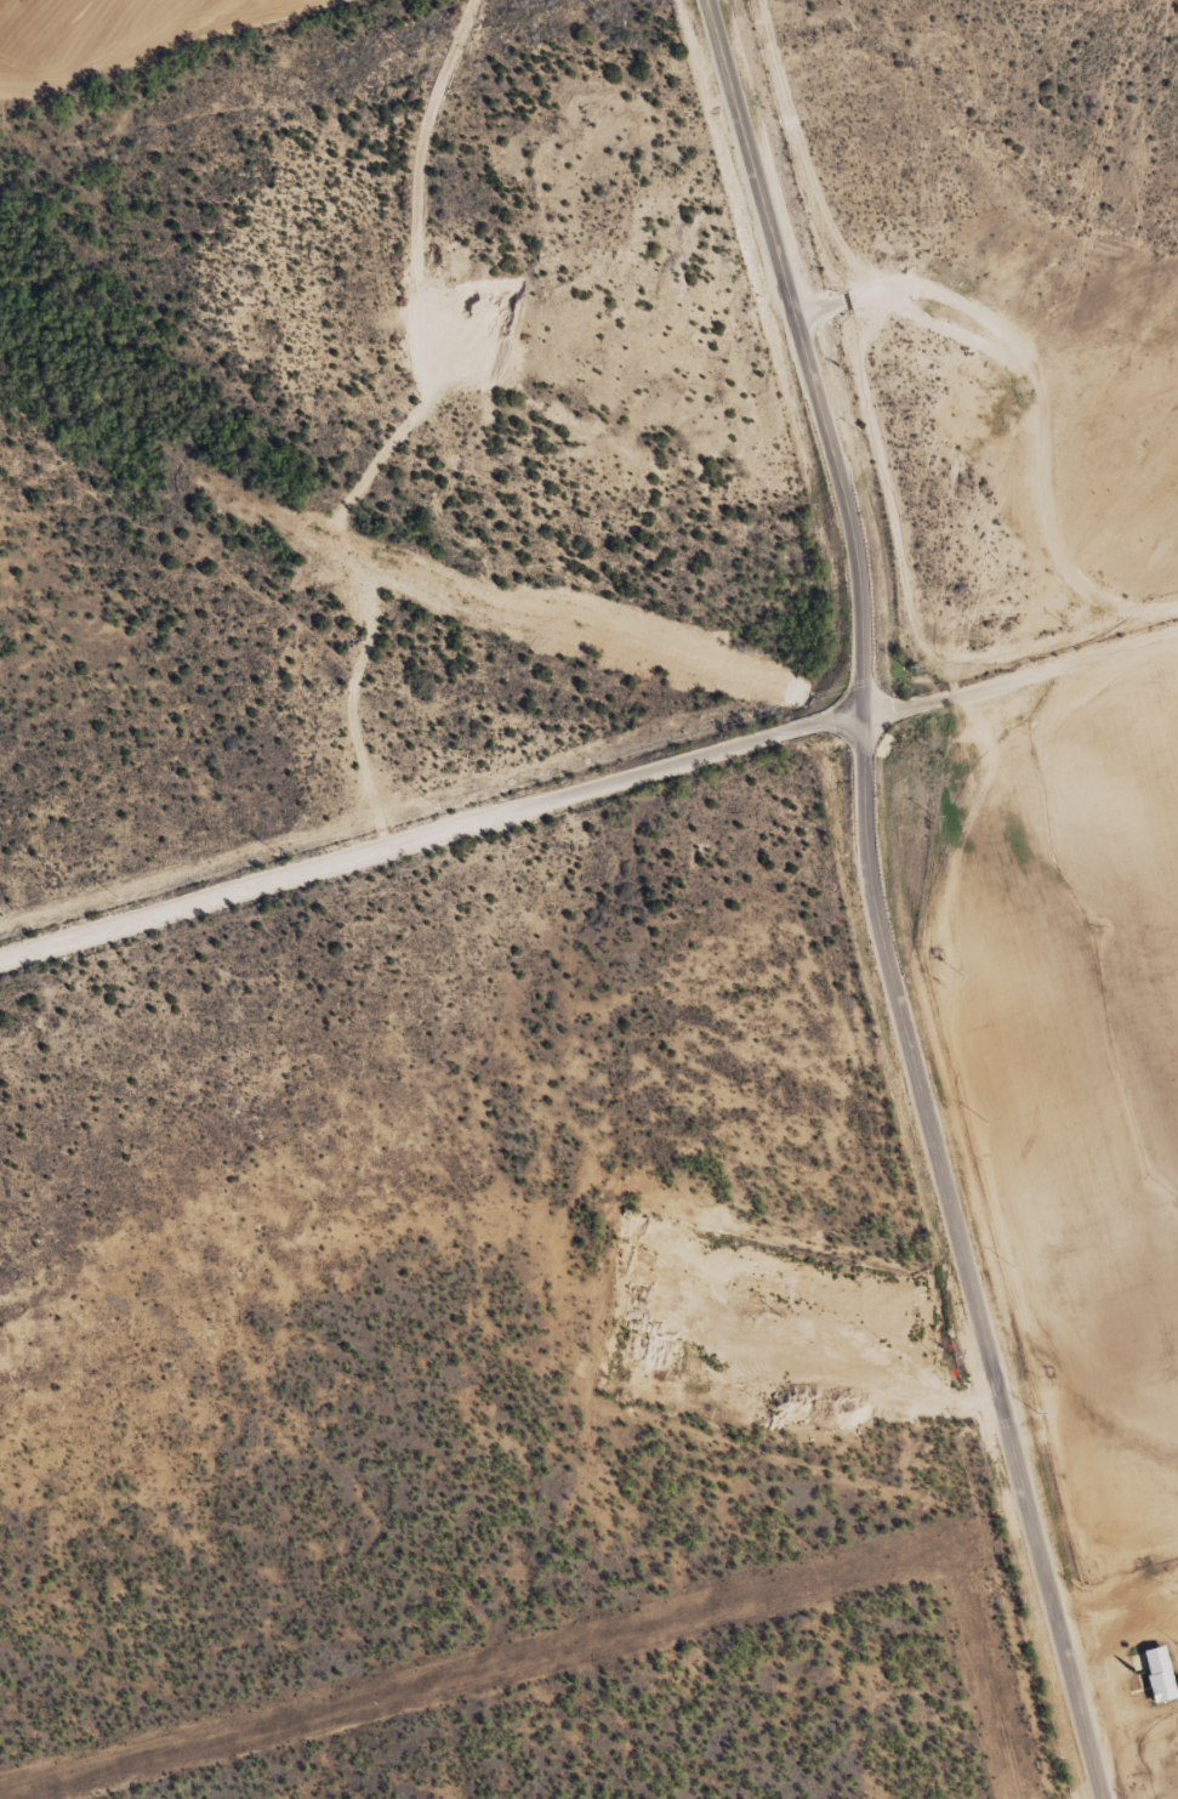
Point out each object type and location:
power tower: (410, 50)
road: (431, 841)
road: (875, 903)
building: (1156, 1672)

